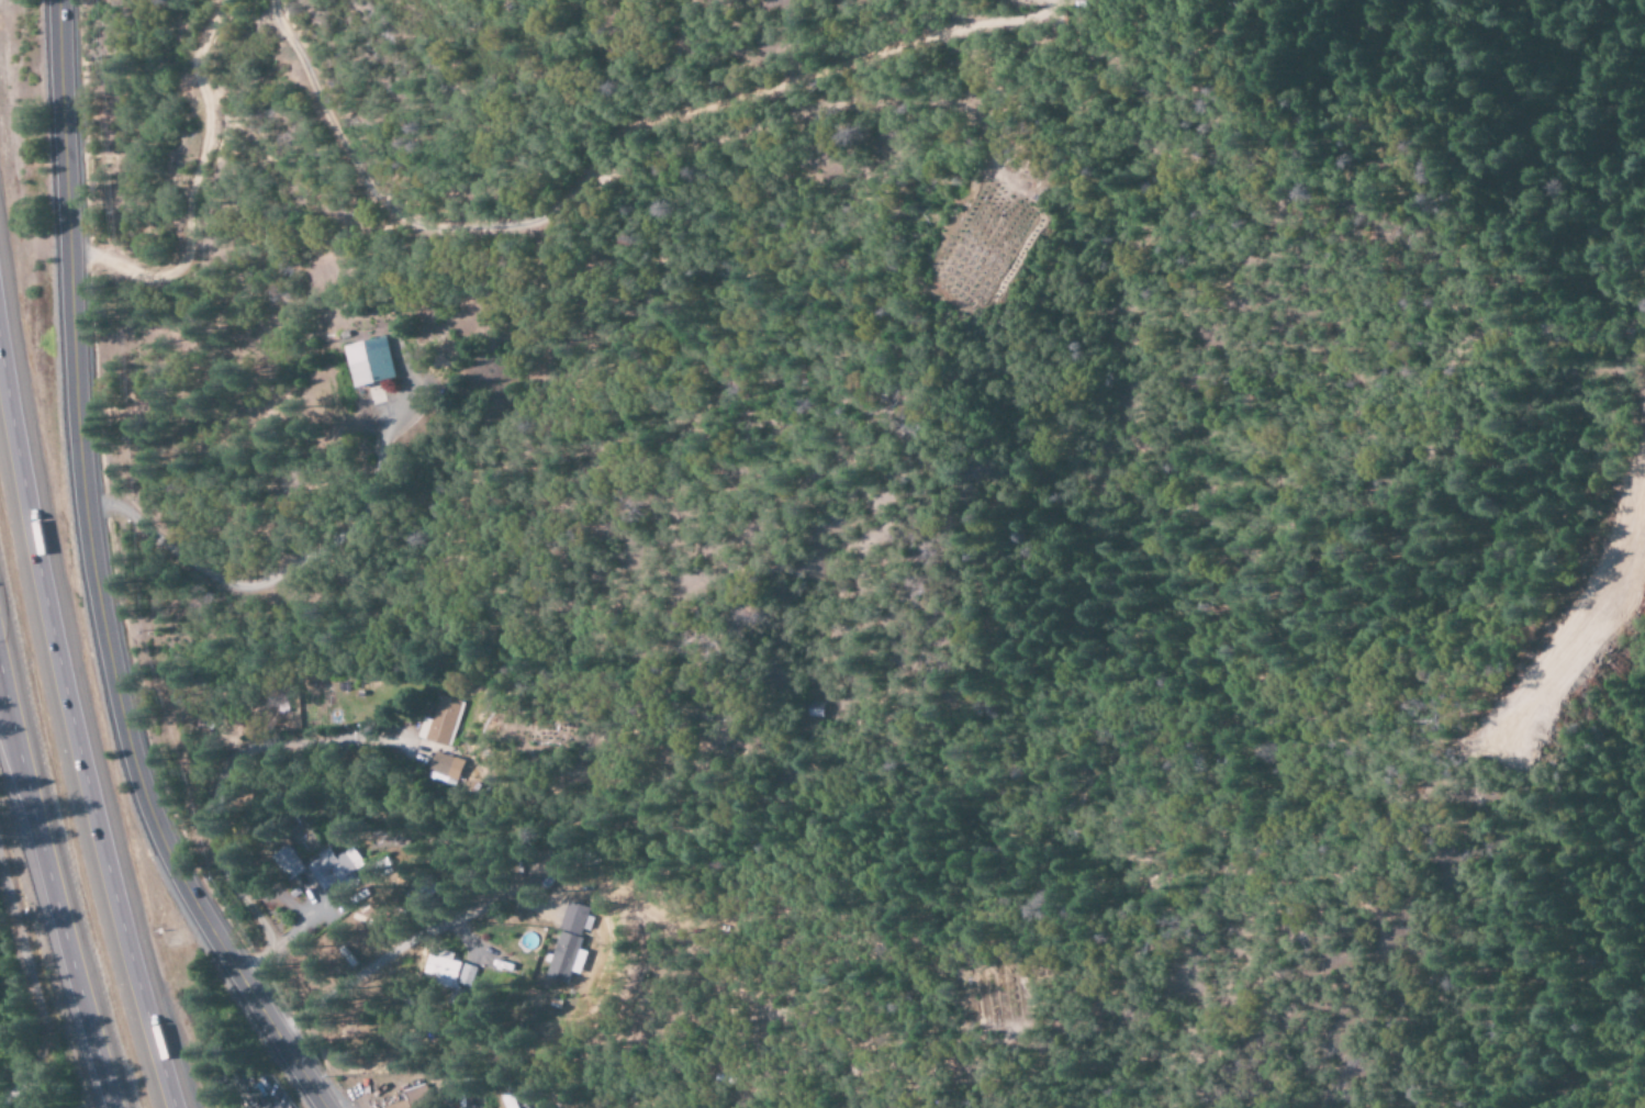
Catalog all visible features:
building: (368, 362)
road: (273, 575)
road: (100, 579)
road: (76, 712)
building: (440, 723)
building: (444, 769)
building: (287, 863)
building: (329, 873)
building: (421, 892)
road: (57, 898)
road: (10, 920)
building: (567, 942)
building: (502, 963)
building: (450, 969)
building: (413, 1098)
building: (508, 1100)

